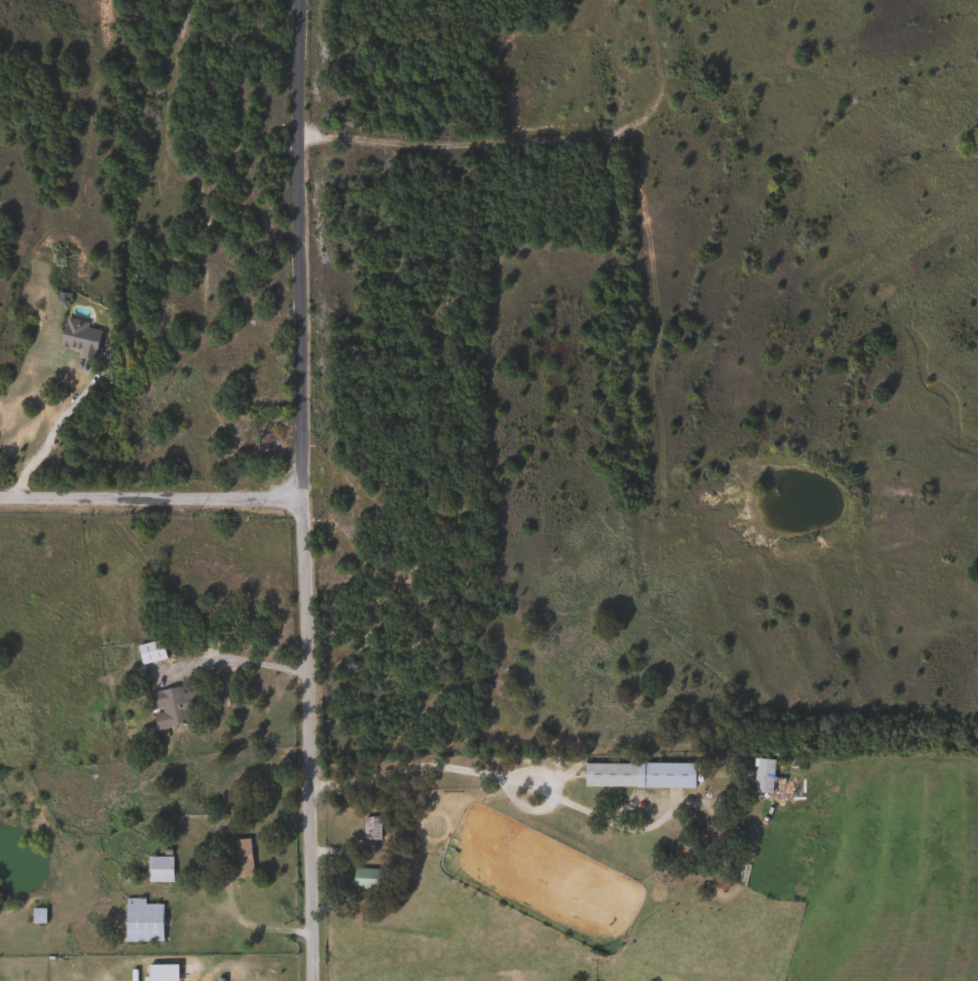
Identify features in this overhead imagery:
building: (75, 337)
road: (51, 435)
road: (297, 490)
road: (148, 497)
building: (147, 652)
road: (233, 660)
building: (166, 708)
road: (421, 765)
building: (636, 775)
building: (762, 777)
building: (367, 828)
building: (238, 858)
building: (156, 869)
building: (364, 879)
building: (35, 916)
building: (139, 921)

